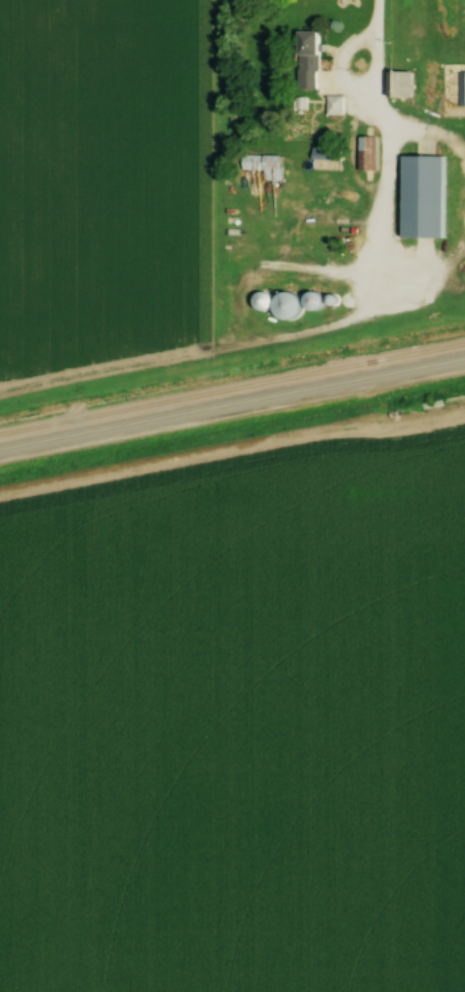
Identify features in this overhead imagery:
building: (309, 60)
building: (399, 84)
building: (462, 89)
building: (335, 105)
building: (326, 153)
building: (368, 153)
building: (264, 166)
crop: (100, 181)
building: (424, 197)
building: (326, 199)
building: (287, 307)
road: (331, 320)
railway: (232, 388)
railway: (232, 399)
building: (433, 407)

